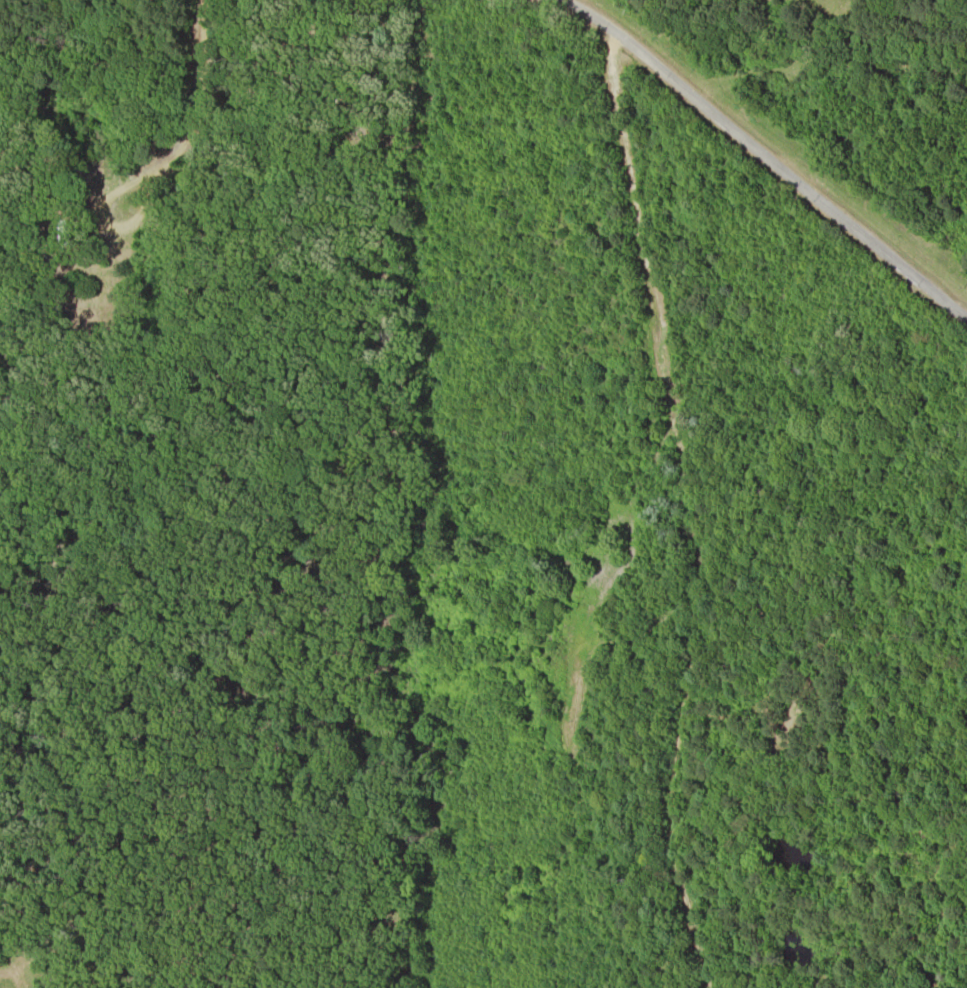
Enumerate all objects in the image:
road: (766, 154)
road: (679, 509)

